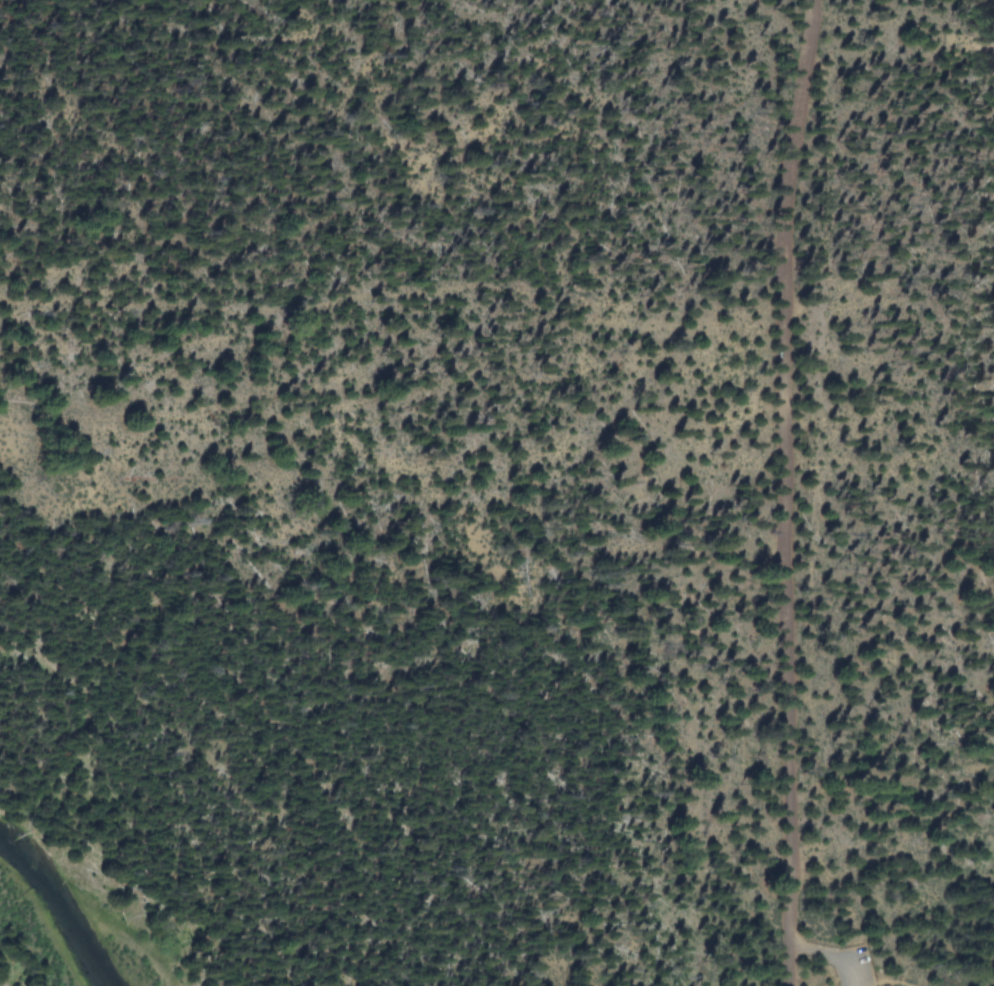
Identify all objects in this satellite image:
road: (391, 288)
road: (785, 492)
river: (56, 919)
road: (830, 955)
parking lot: (859, 980)
road: (883, 984)

